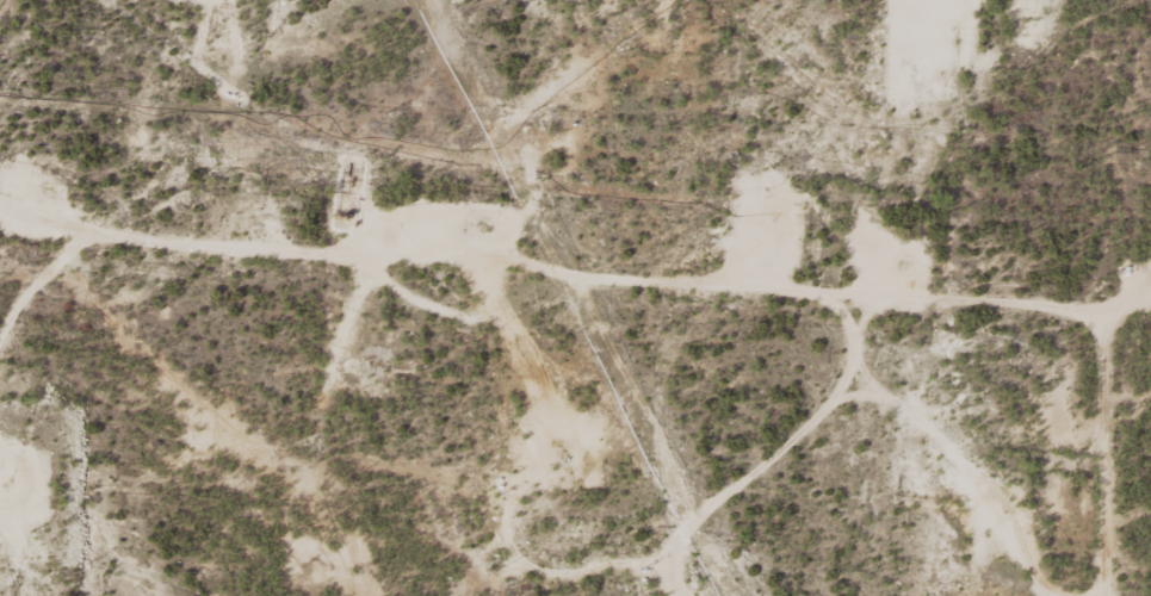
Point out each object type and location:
road: (619, 296)

